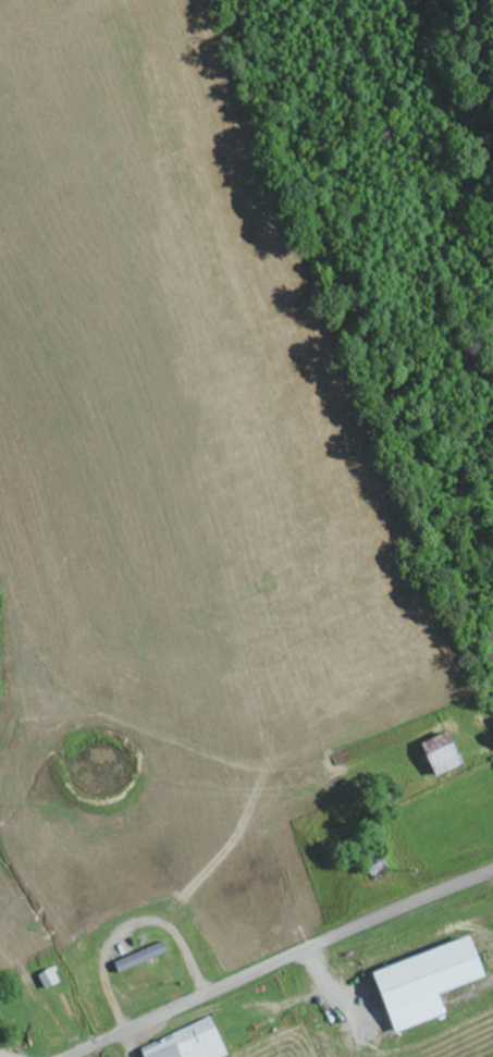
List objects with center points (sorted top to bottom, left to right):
building: (435, 757)
building: (135, 958)
road: (279, 960)
building: (44, 980)
building: (418, 984)
building: (184, 1044)

